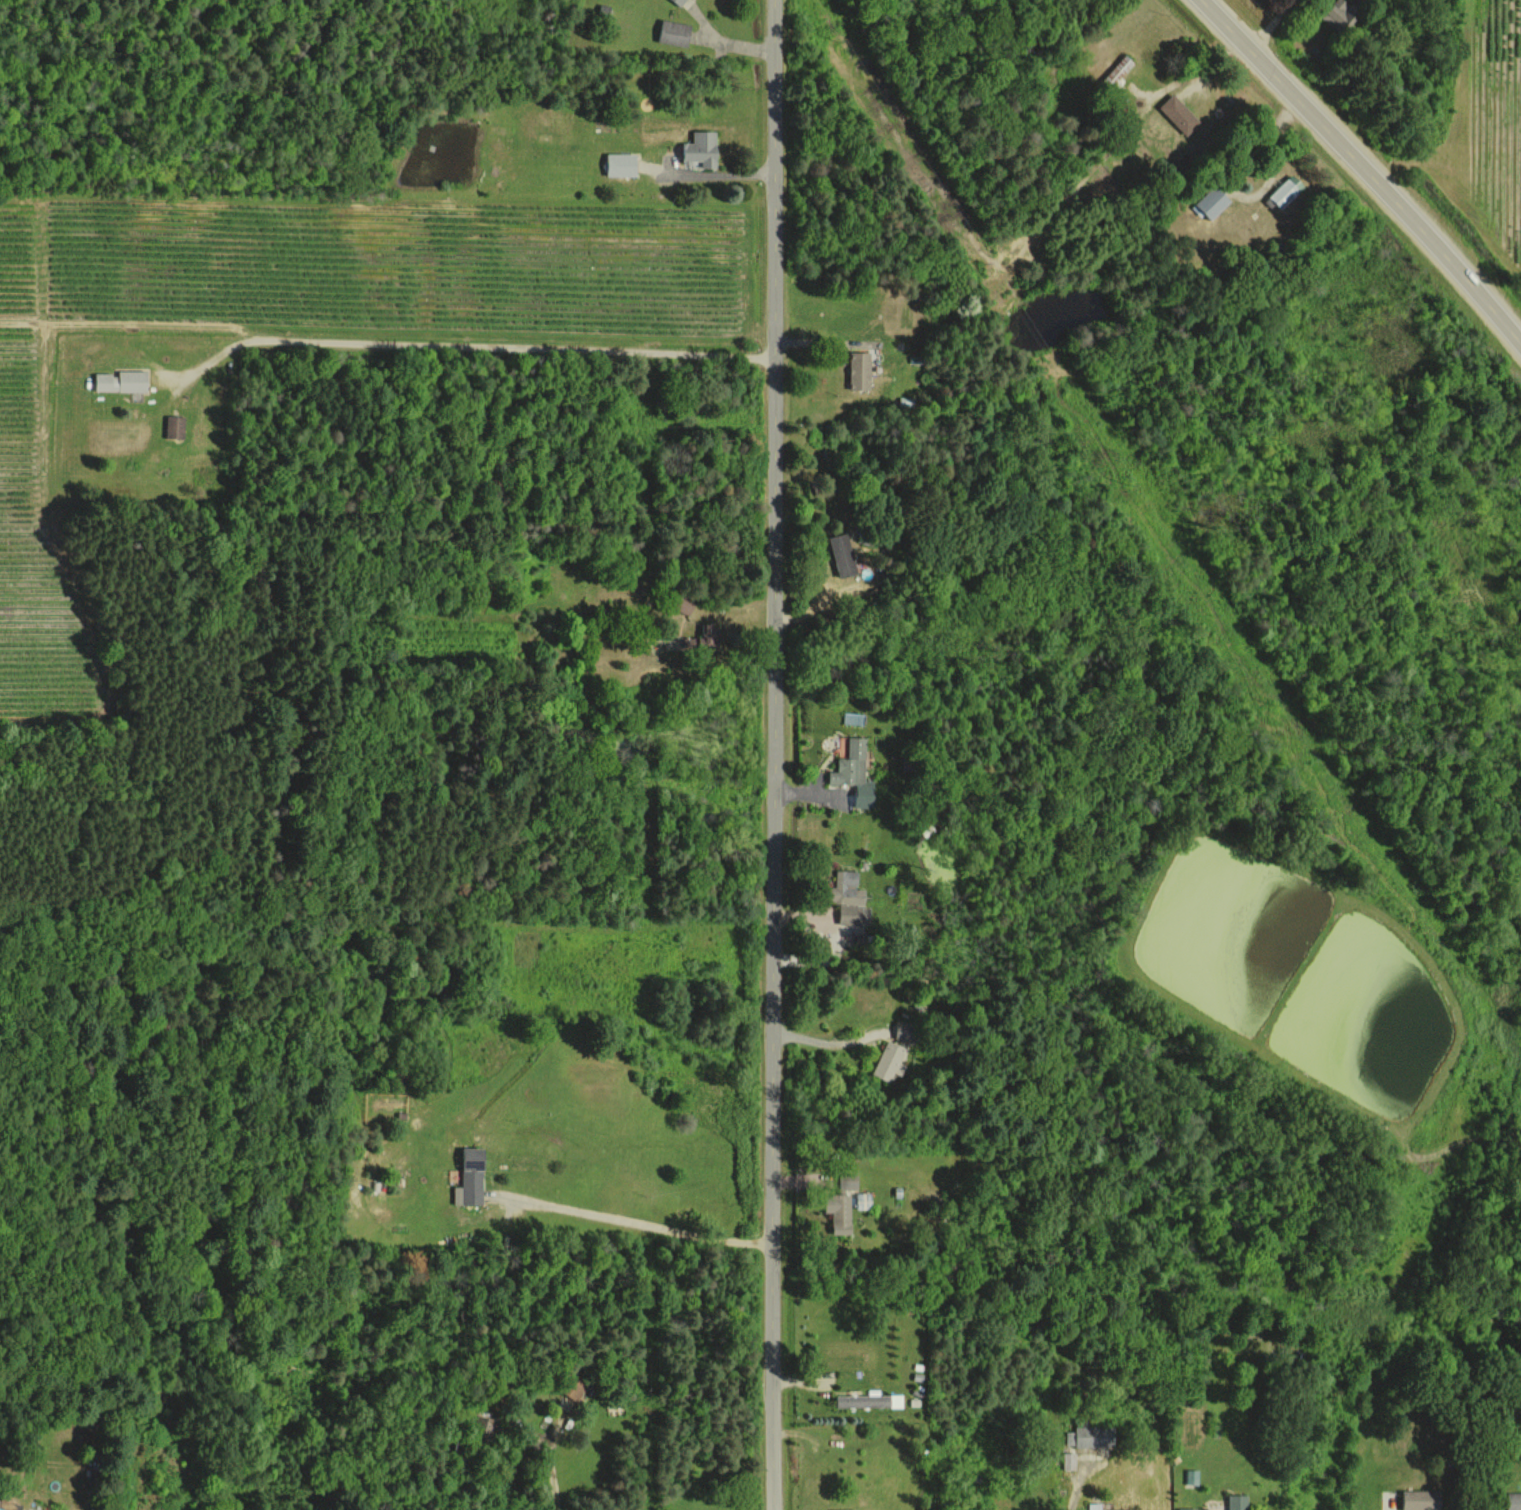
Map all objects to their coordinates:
building: (680, 2)
building: (1339, 14)
road: (1270, 25)
building: (674, 32)
building: (1118, 71)
building: (1179, 114)
building: (701, 148)
building: (621, 164)
road: (1364, 165)
building: (1286, 190)
building: (1212, 201)
road: (473, 345)
building: (859, 370)
building: (121, 381)
building: (174, 426)
building: (842, 555)
building: (683, 604)
building: (702, 638)
road: (771, 755)
building: (854, 772)
building: (848, 898)
road: (823, 1041)
building: (887, 1061)
building: (470, 1177)
building: (848, 1184)
building: (839, 1213)
road: (640, 1224)
building: (572, 1388)
building: (862, 1400)
building: (1090, 1435)
building: (1069, 1460)
building: (1191, 1476)
road: (553, 1484)
road: (1076, 1485)
building: (1421, 1499)
building: (1513, 1501)
building: (1232, 1502)
building: (9, 1505)
building: (1096, 1506)
building: (846, 1509)

